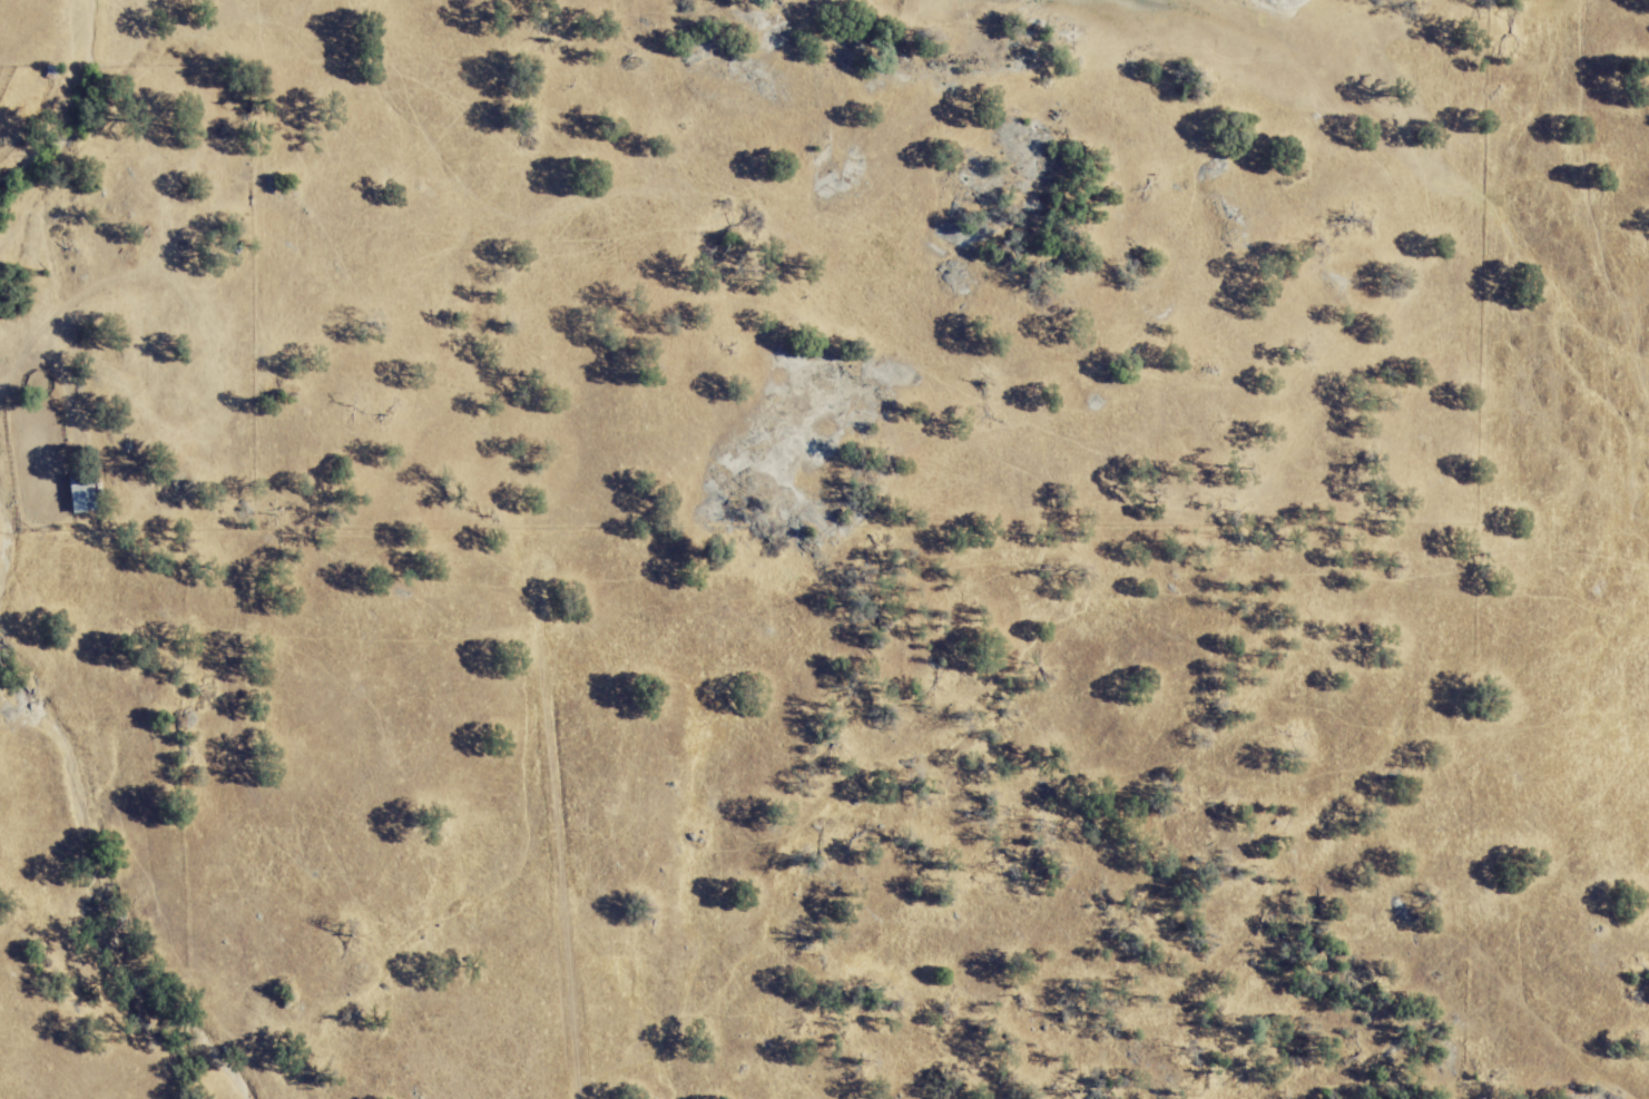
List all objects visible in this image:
road: (16, 422)

